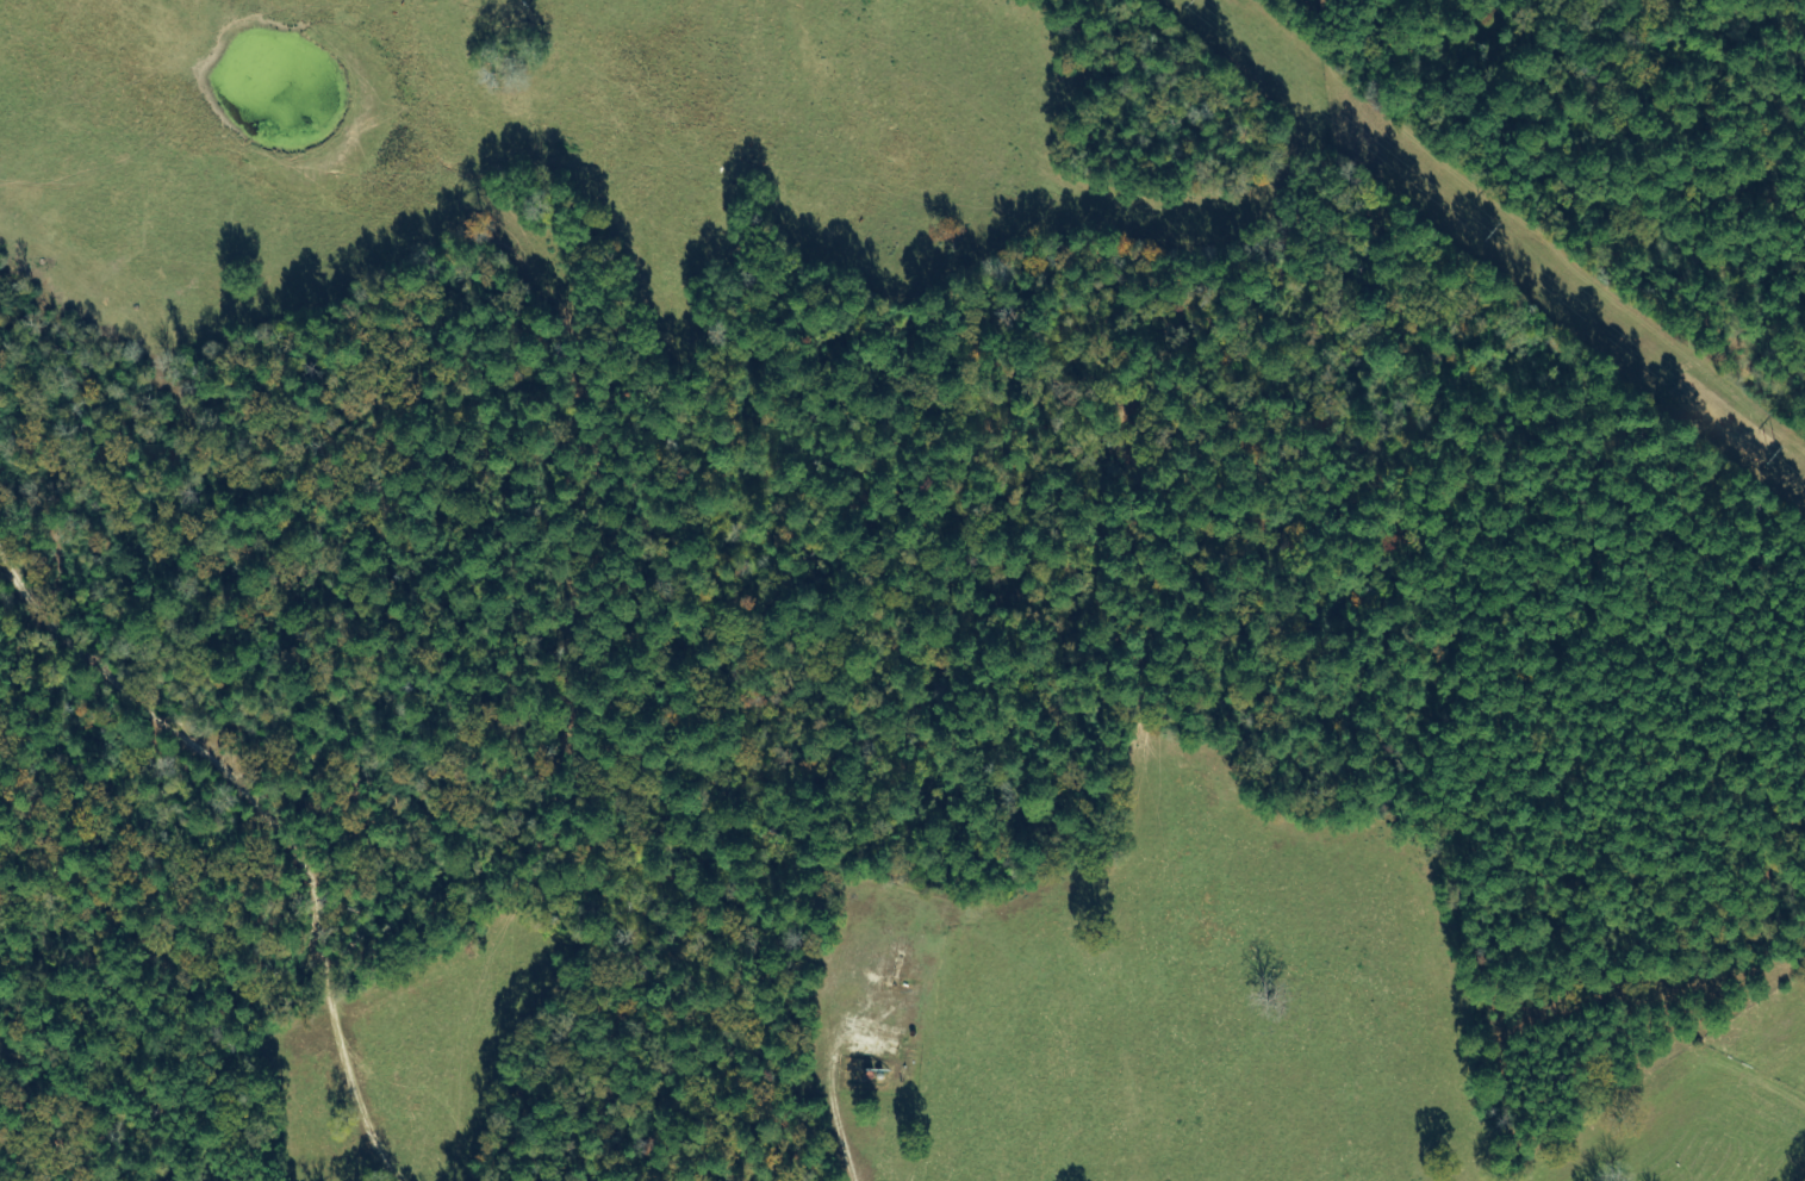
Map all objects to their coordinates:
power tower: (1504, 251)
power tower: (1782, 475)

